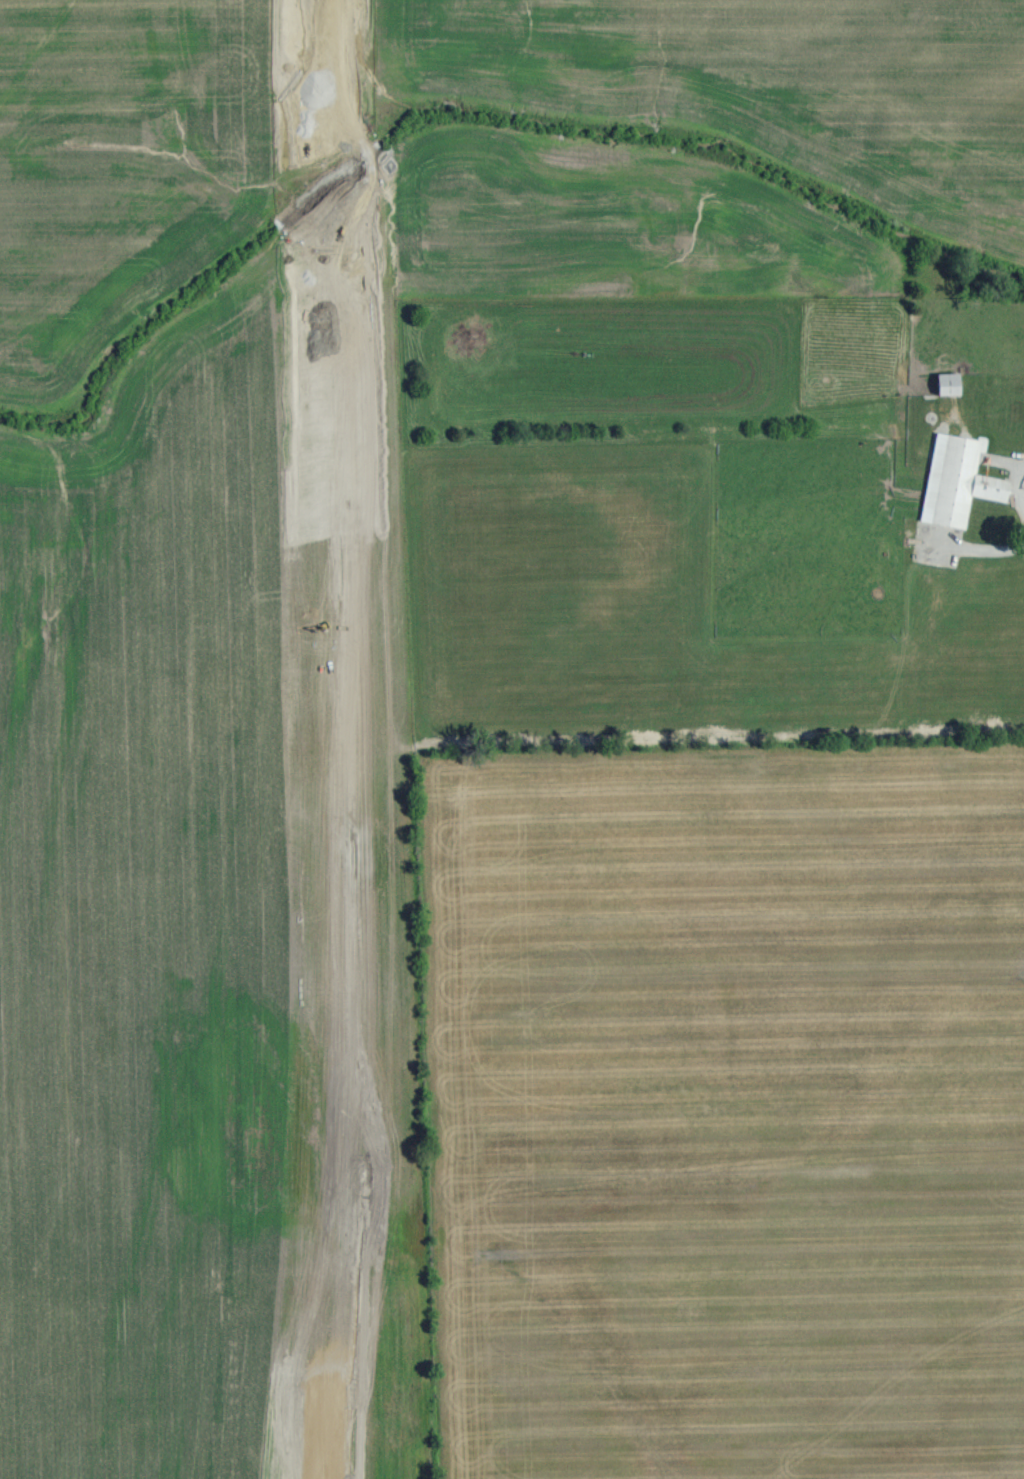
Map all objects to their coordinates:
building: (950, 381)
building: (959, 479)
road: (339, 744)

